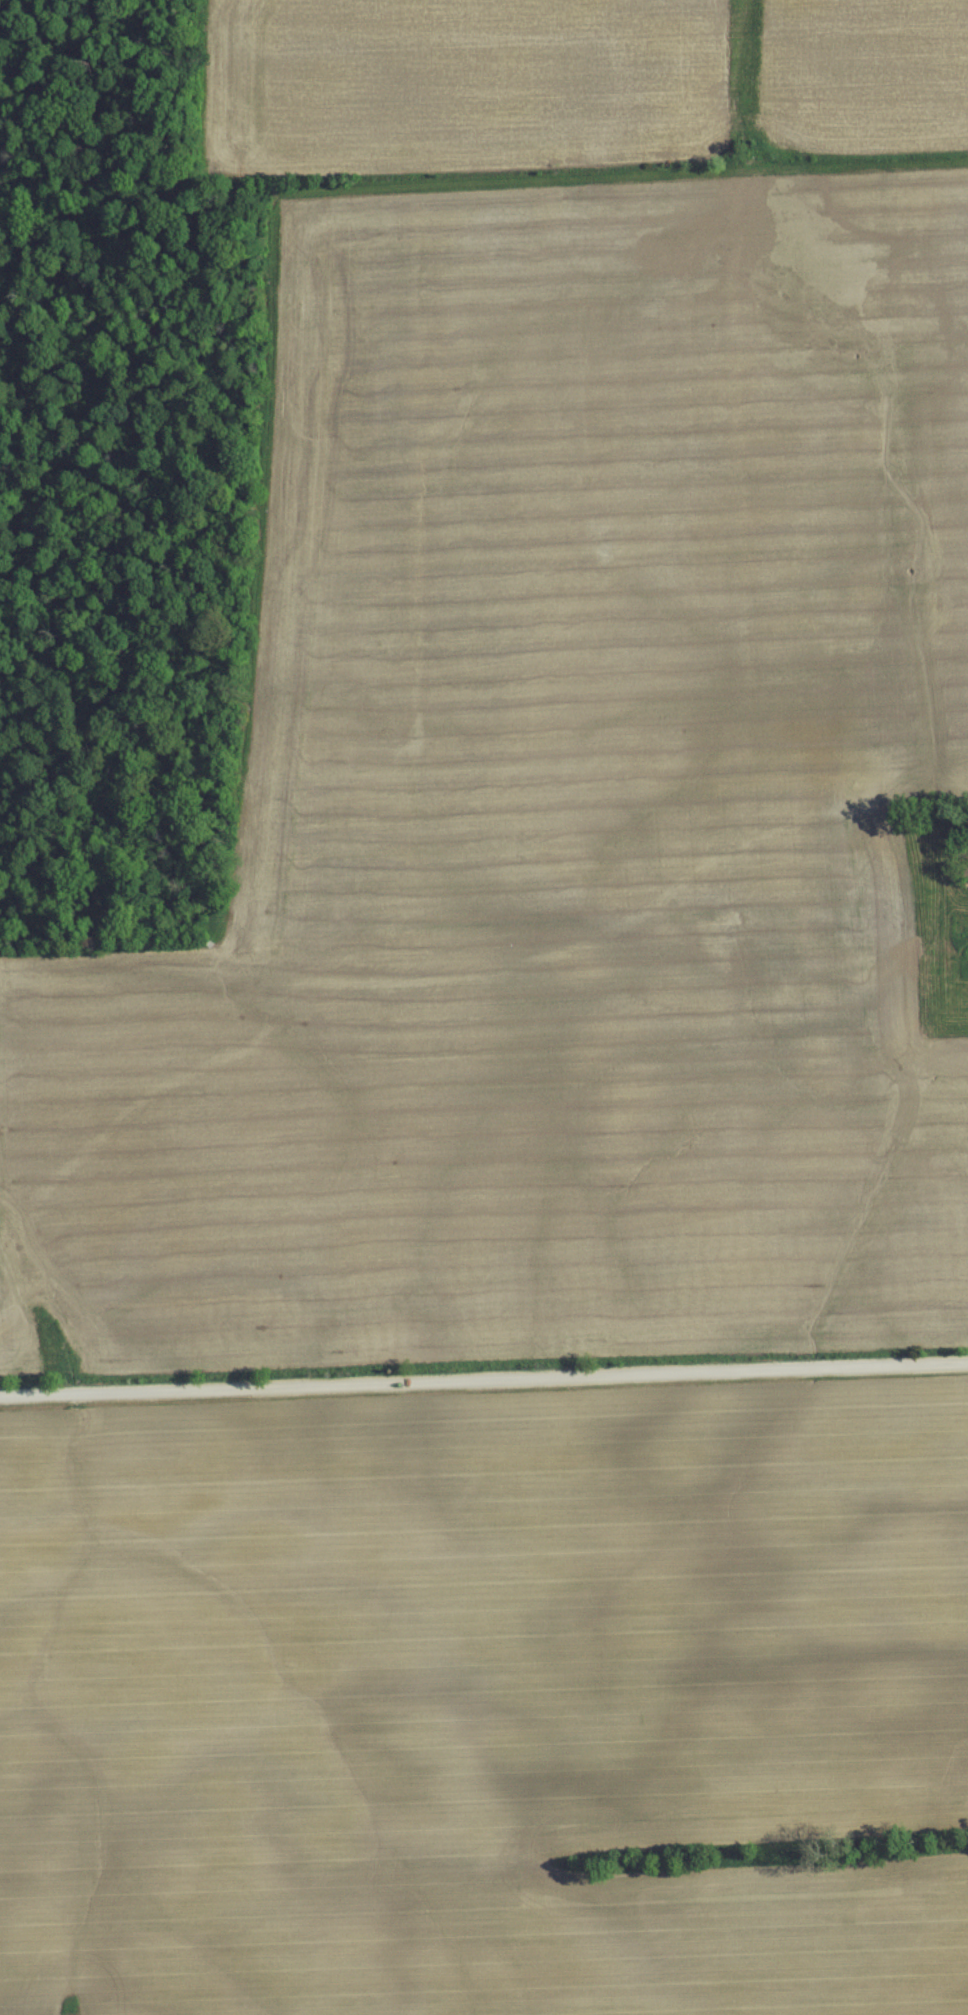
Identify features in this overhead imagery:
road: (484, 1379)

